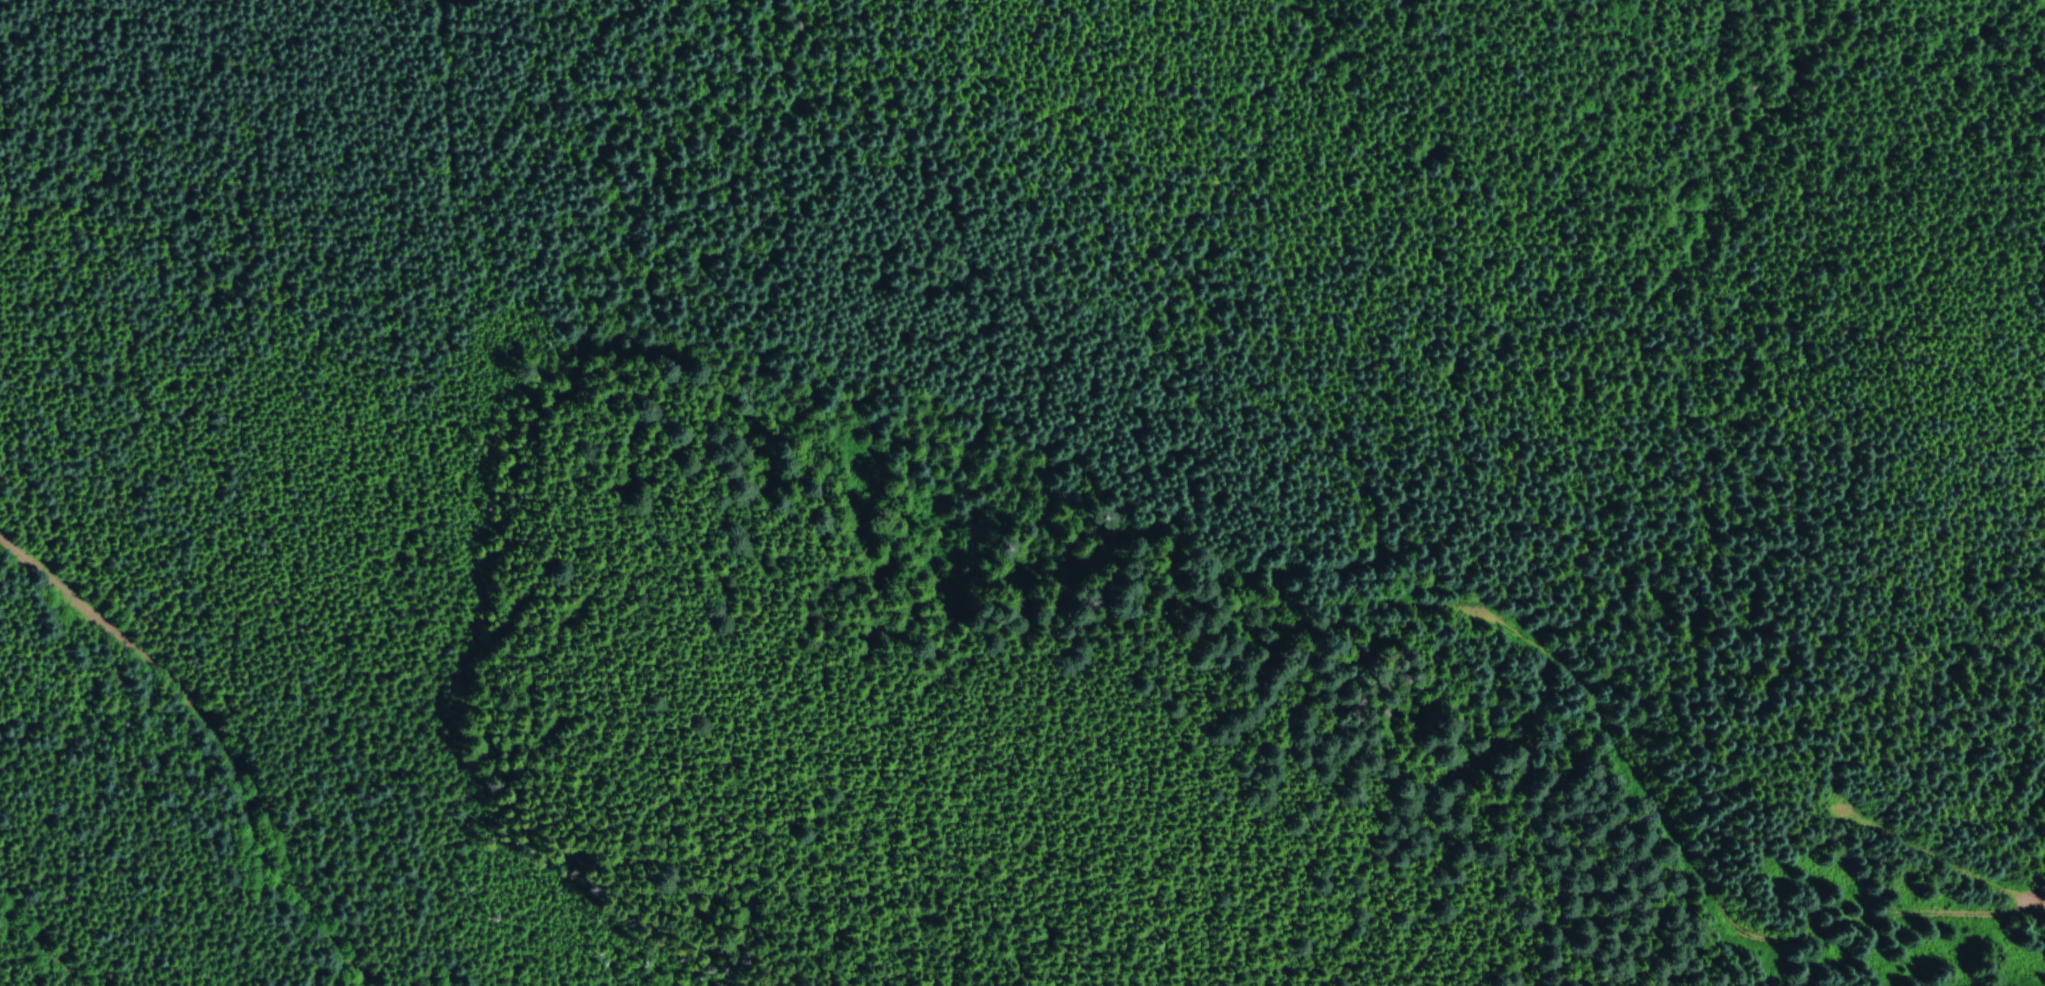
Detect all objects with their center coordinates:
road: (264, 724)
road: (1928, 806)
road: (117, 934)

